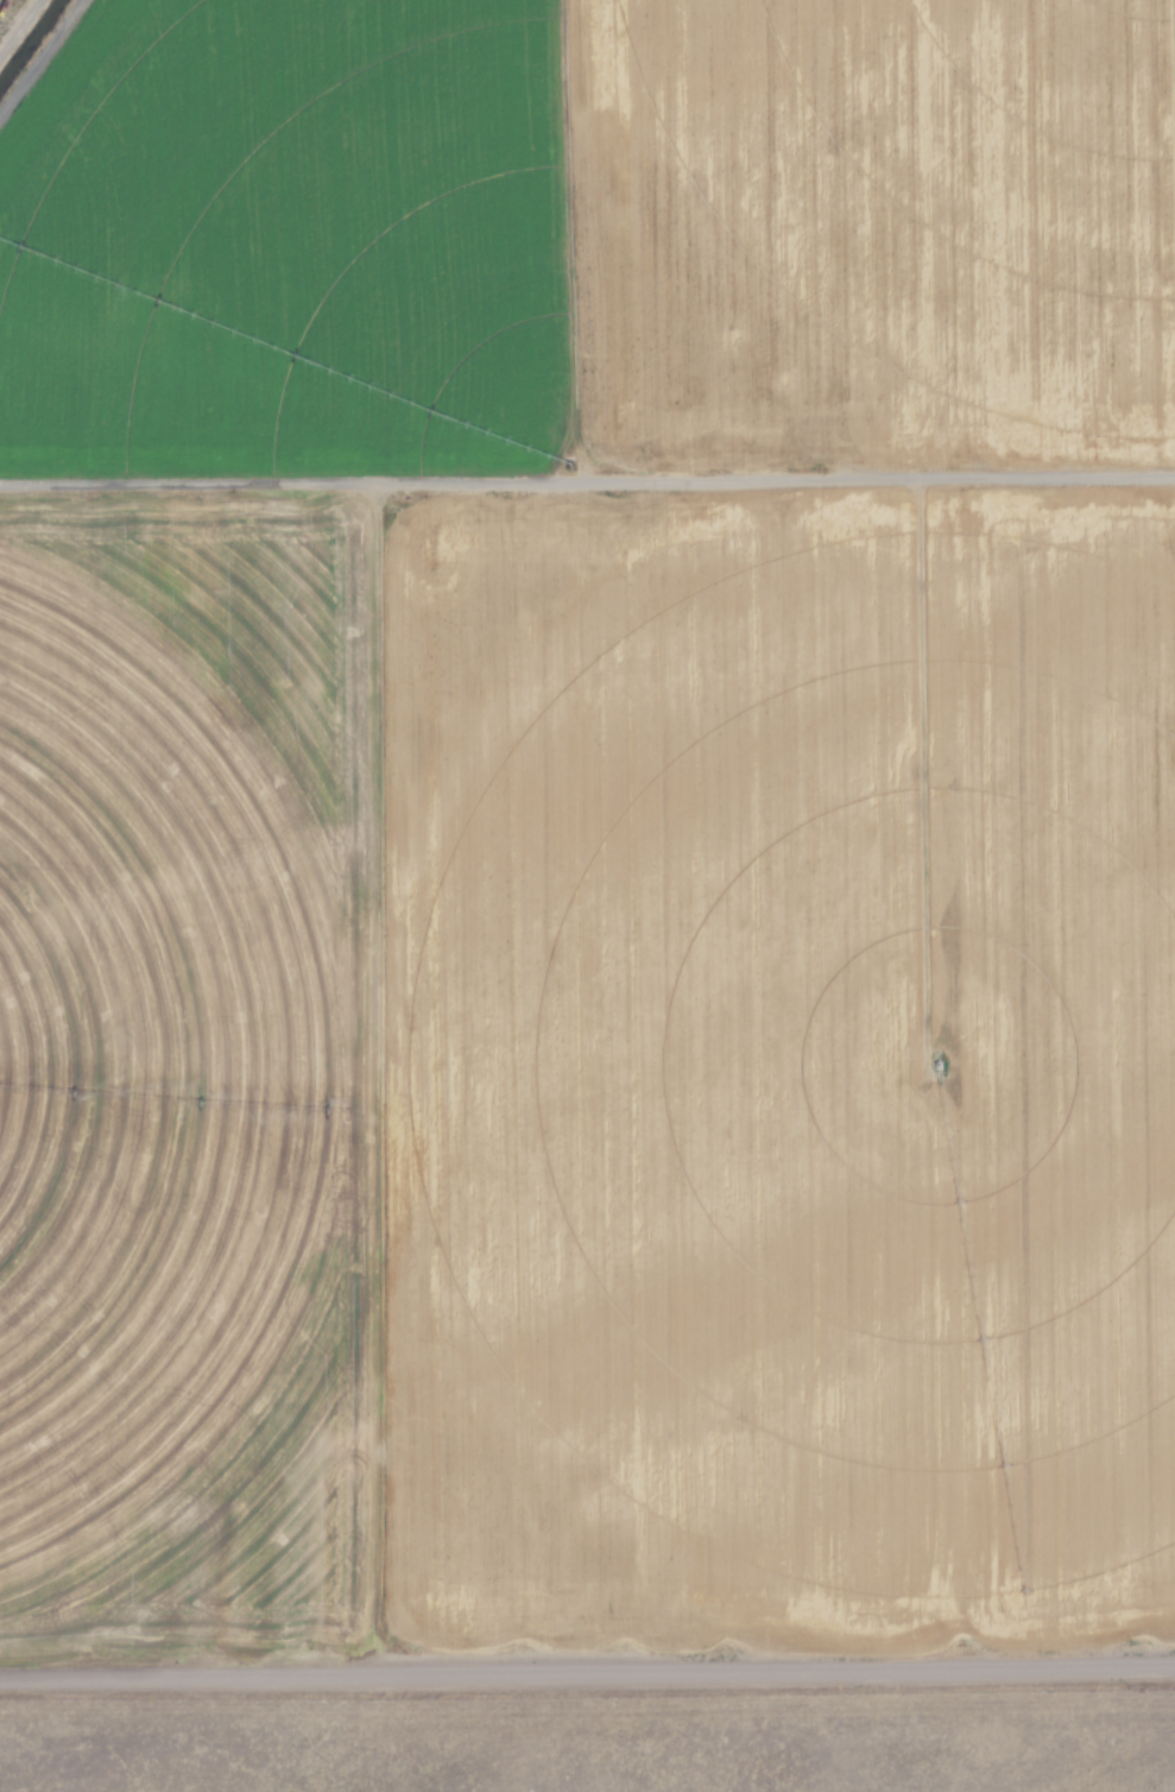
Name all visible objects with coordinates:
road: (587, 1677)

